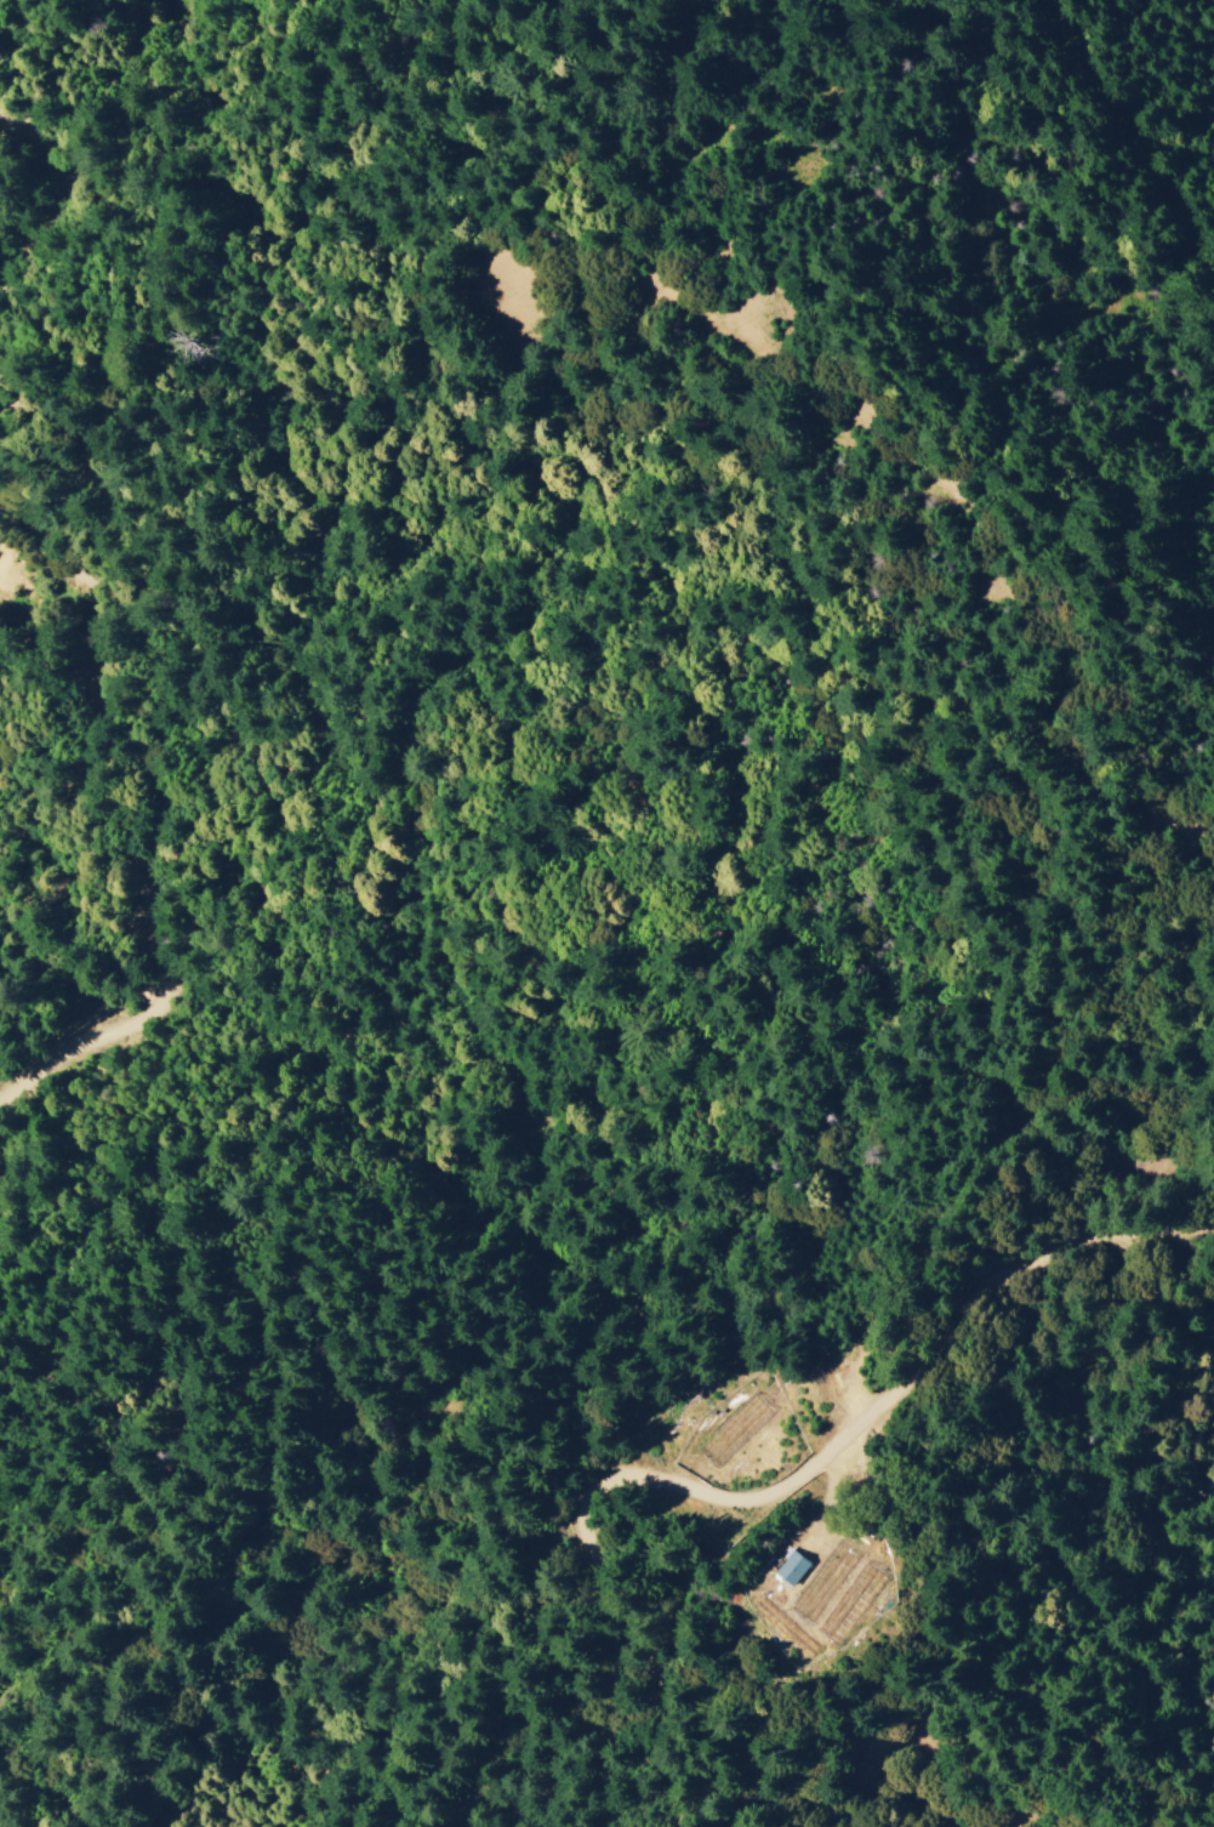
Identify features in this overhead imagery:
building: (791, 1570)

